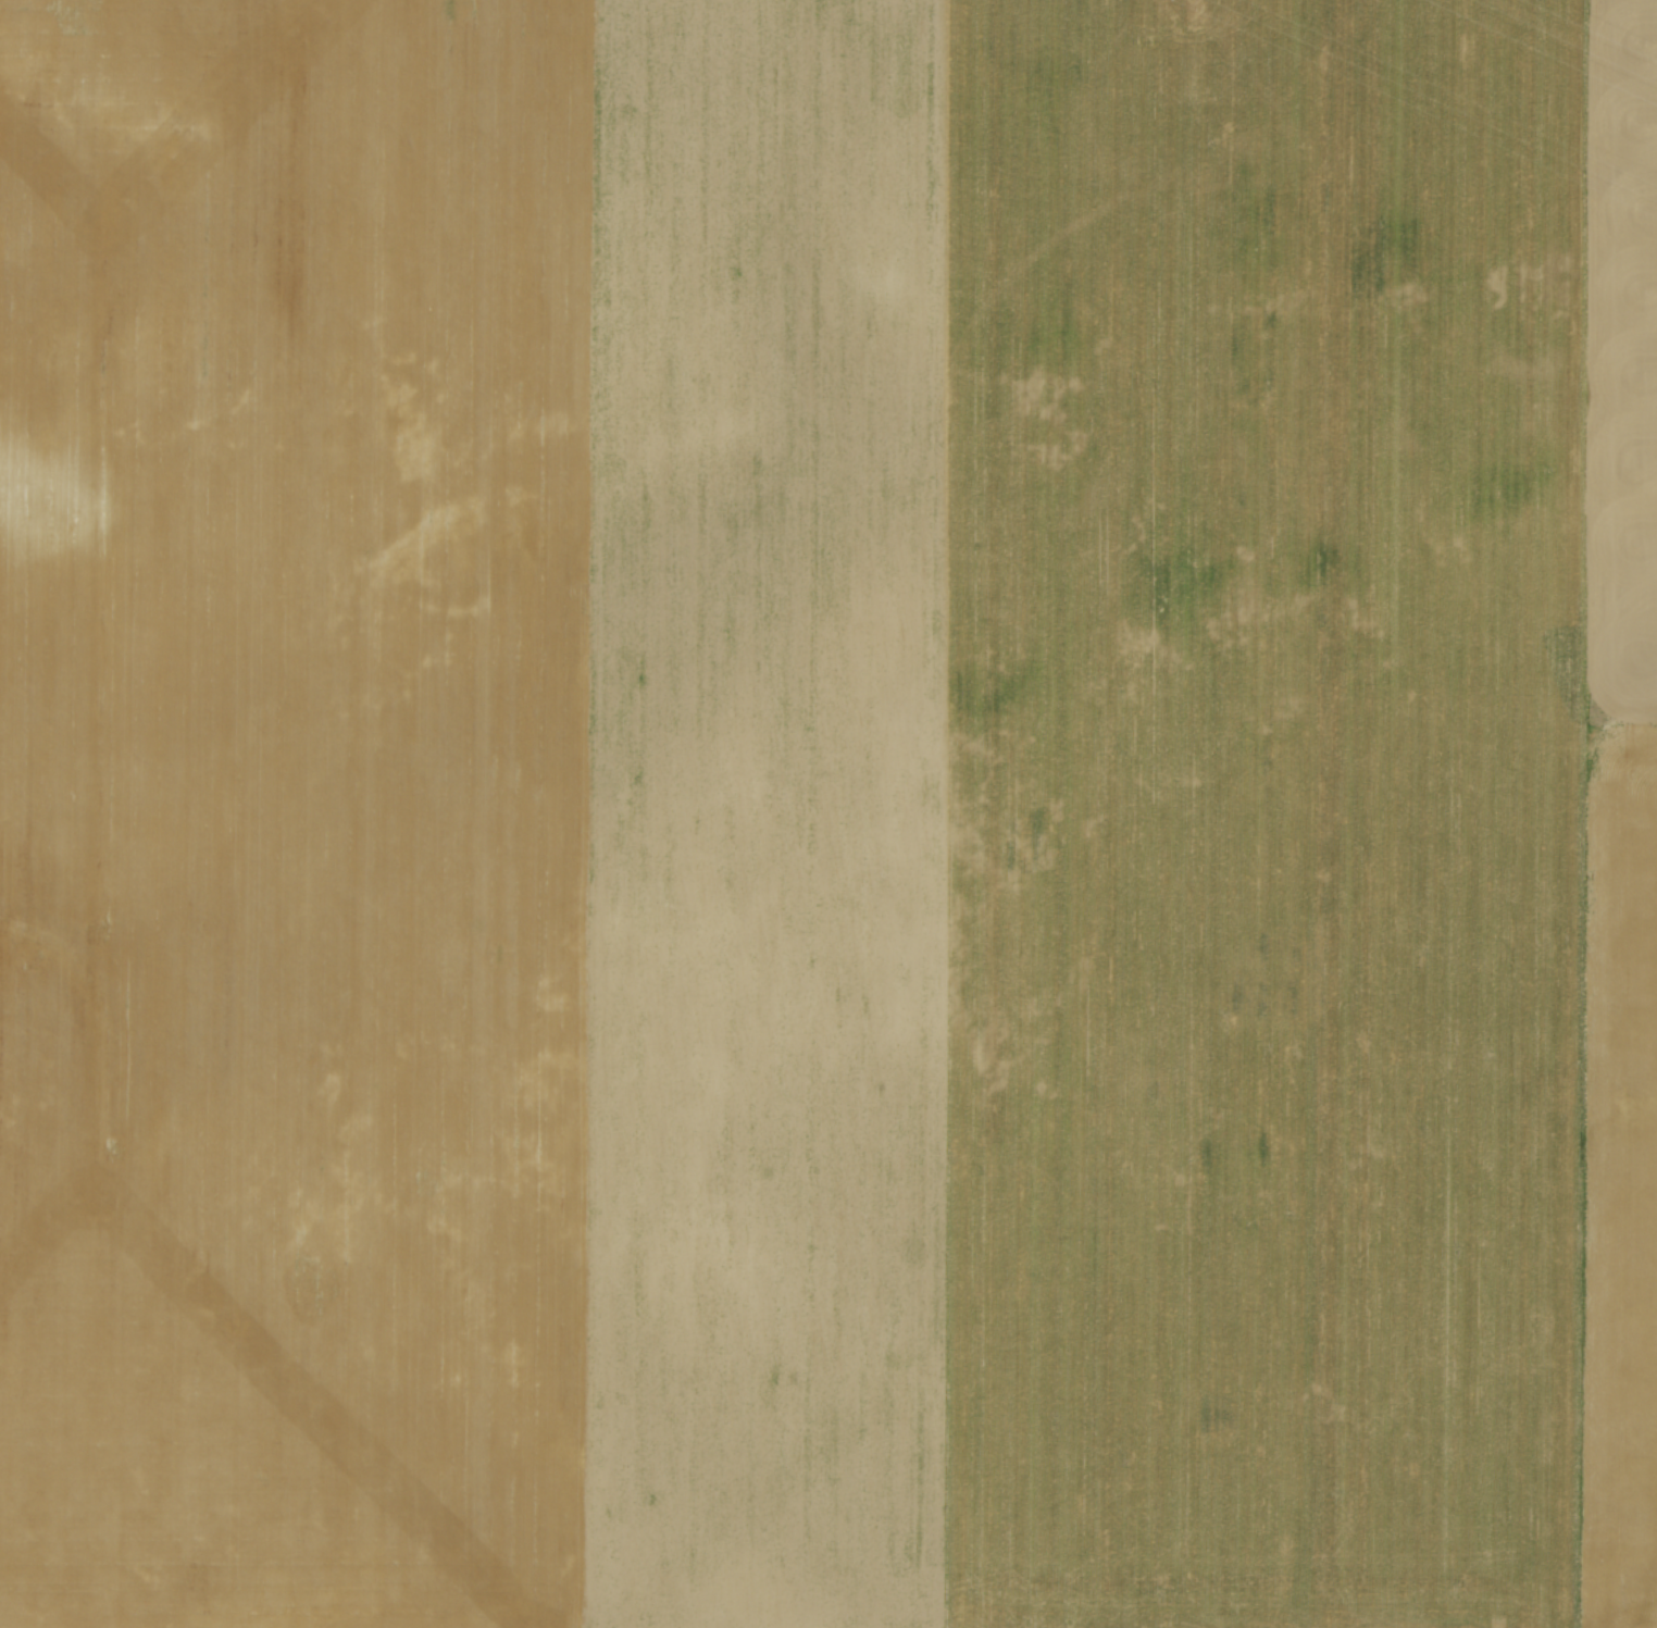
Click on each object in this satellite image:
crop: (828, 813)

